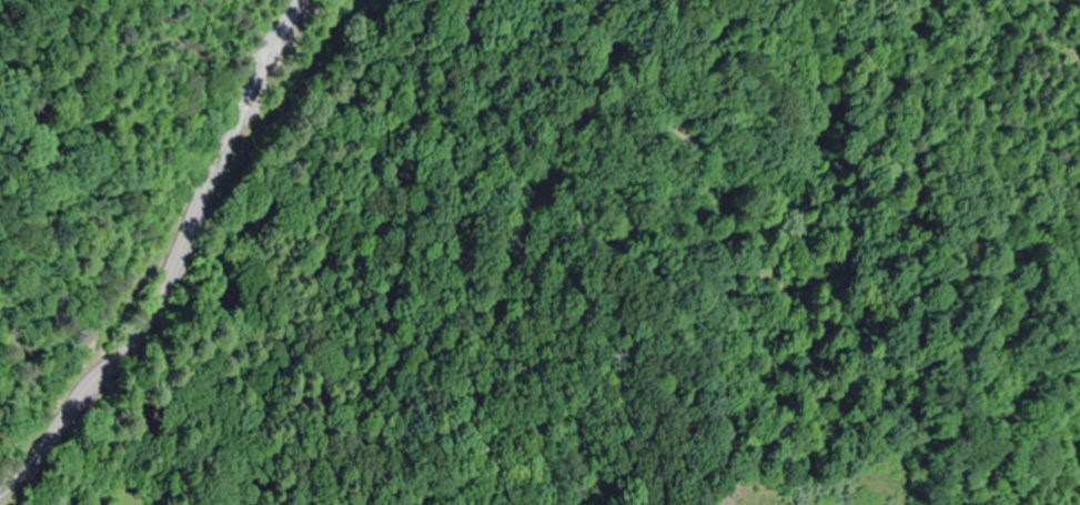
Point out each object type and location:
road: (173, 259)

